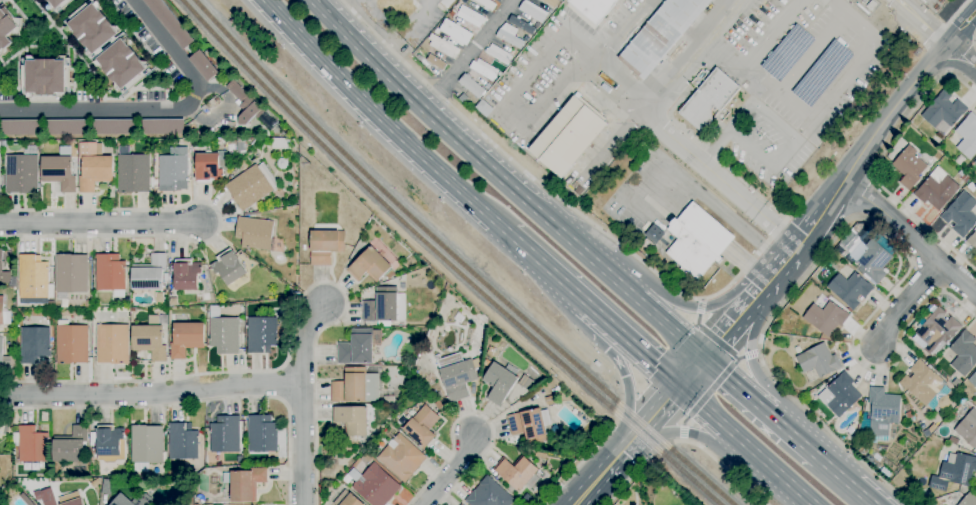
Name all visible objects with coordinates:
building: (464, 1)
building: (58, 4)
building: (486, 4)
building: (870, 5)
road: (835, 6)
building: (593, 8)
road: (339, 9)
building: (532, 12)
building: (452, 14)
building: (470, 16)
road: (951, 17)
road: (959, 20)
road: (919, 21)
building: (170, 22)
building: (8, 29)
road: (960, 31)
building: (455, 33)
building: (660, 35)
building: (509, 36)
building: (119, 46)
building: (443, 46)
building: (513, 52)
road: (809, 52)
building: (497, 54)
road: (960, 55)
road: (470, 56)
building: (434, 62)
road: (856, 63)
road: (749, 64)
building: (205, 66)
building: (483, 69)
road: (604, 73)
building: (499, 74)
building: (46, 77)
building: (470, 86)
road: (653, 90)
building: (462, 98)
building: (708, 99)
building: (245, 104)
building: (483, 108)
road: (224, 109)
road: (159, 111)
road: (890, 112)
building: (944, 112)
road: (383, 119)
building: (267, 122)
building: (114, 126)
building: (163, 126)
building: (21, 127)
building: (67, 127)
building: (567, 136)
building: (967, 137)
building: (936, 140)
building: (241, 145)
building: (644, 147)
building: (975, 163)
building: (242, 165)
road: (877, 165)
building: (94, 167)
building: (211, 167)
building: (909, 167)
building: (59, 170)
building: (174, 170)
building: (133, 173)
building: (21, 174)
building: (962, 176)
road: (503, 182)
building: (252, 186)
building: (936, 189)
road: (700, 194)
road: (861, 195)
road: (561, 200)
road: (828, 205)
building: (961, 215)
road: (848, 220)
road: (100, 222)
road: (220, 222)
building: (857, 228)
building: (255, 233)
road: (806, 236)
building: (652, 237)
road: (910, 238)
building: (697, 241)
building: (972, 241)
building: (326, 246)
building: (840, 250)
railway: (444, 259)
railway: (457, 259)
building: (870, 259)
building: (369, 265)
building: (229, 267)
road: (546, 267)
road: (778, 271)
building: (6, 274)
building: (71, 274)
building: (111, 274)
building: (150, 274)
building: (186, 275)
building: (33, 277)
building: (850, 289)
building: (160, 299)
building: (174, 301)
building: (65, 303)
road: (904, 303)
building: (89, 304)
road: (587, 304)
road: (699, 306)
building: (385, 307)
building: (4, 313)
building: (825, 318)
road: (730, 326)
building: (937, 331)
road: (705, 332)
building: (224, 333)
building: (262, 334)
road: (290, 334)
building: (152, 338)
building: (187, 339)
building: (72, 342)
building: (35, 344)
building: (112, 344)
building: (1, 346)
road: (634, 346)
building: (357, 348)
building: (797, 349)
building: (963, 353)
road: (748, 355)
road: (752, 355)
traffic signals: (702, 359)
building: (819, 361)
road: (690, 372)
road: (624, 375)
building: (456, 376)
building: (973, 381)
building: (500, 382)
building: (956, 383)
building: (923, 385)
building: (355, 386)
traffic signals: (679, 386)
road: (735, 387)
road: (150, 393)
building: (839, 395)
road: (704, 397)
building: (389, 399)
building: (550, 400)
road: (193, 402)
road: (301, 402)
building: (439, 404)
road: (473, 414)
building: (882, 414)
building: (909, 416)
road: (650, 418)
building: (351, 420)
building: (530, 424)
road: (780, 424)
building: (422, 427)
building: (968, 429)
road: (684, 433)
building: (926, 433)
building: (262, 434)
building: (225, 436)
building: (183, 442)
building: (109, 443)
building: (147, 444)
building: (32, 445)
building: (71, 445)
road: (744, 445)
road: (805, 445)
road: (662, 448)
building: (860, 448)
building: (93, 452)
building: (402, 458)
road: (584, 458)
building: (240, 459)
building: (366, 459)
road: (613, 461)
road: (723, 466)
road: (452, 472)
building: (516, 472)
building: (954, 472)
building: (171, 473)
road: (628, 480)
road: (846, 481)
building: (245, 483)
building: (374, 485)
building: (107, 487)
road: (590, 488)
building: (489, 494)
building: (45, 497)
building: (26, 499)
building: (72, 499)
building: (134, 500)
building: (351, 500)
building: (968, 500)
building: (931, 503)
building: (460, 504)
building: (462, 504)

